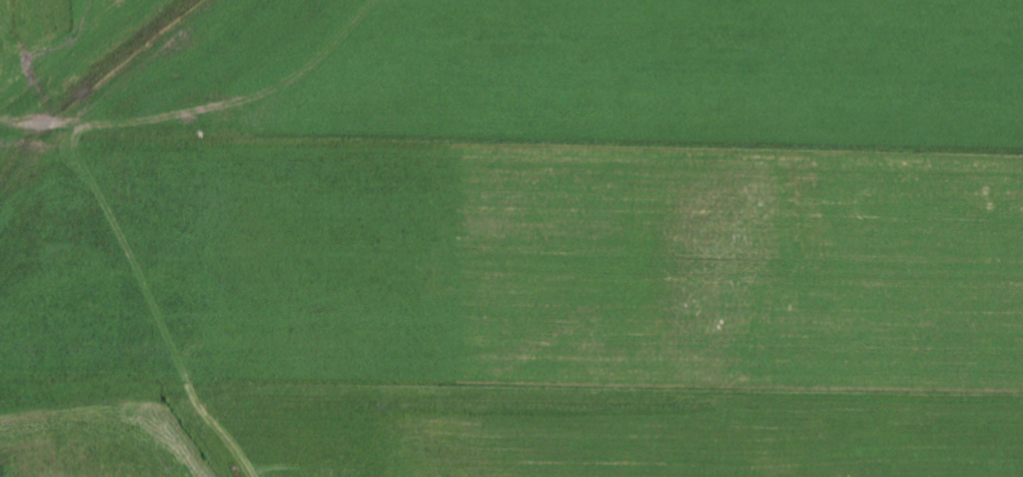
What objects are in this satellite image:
river: (97, 80)

